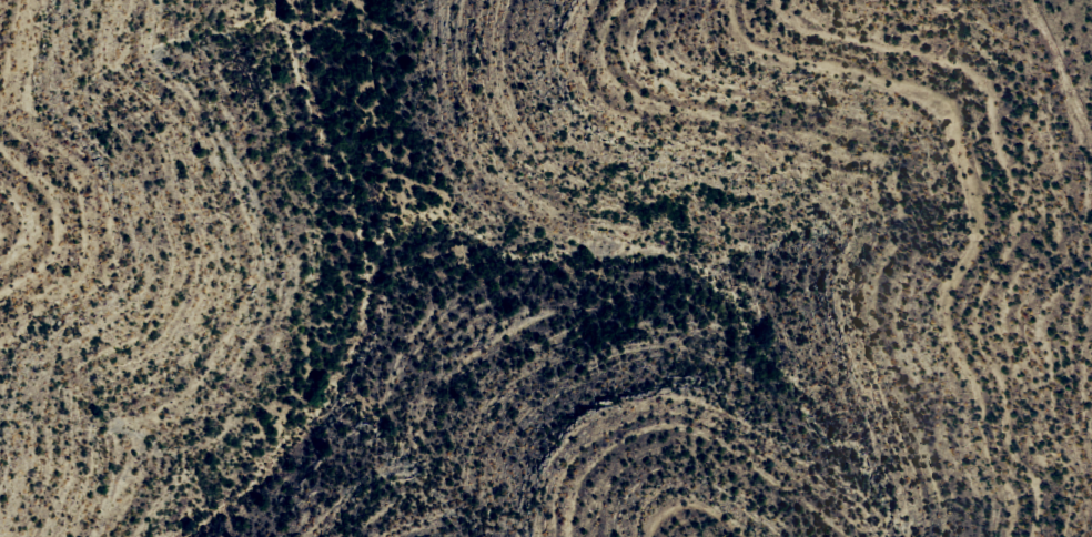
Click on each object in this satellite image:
road: (1042, 123)

